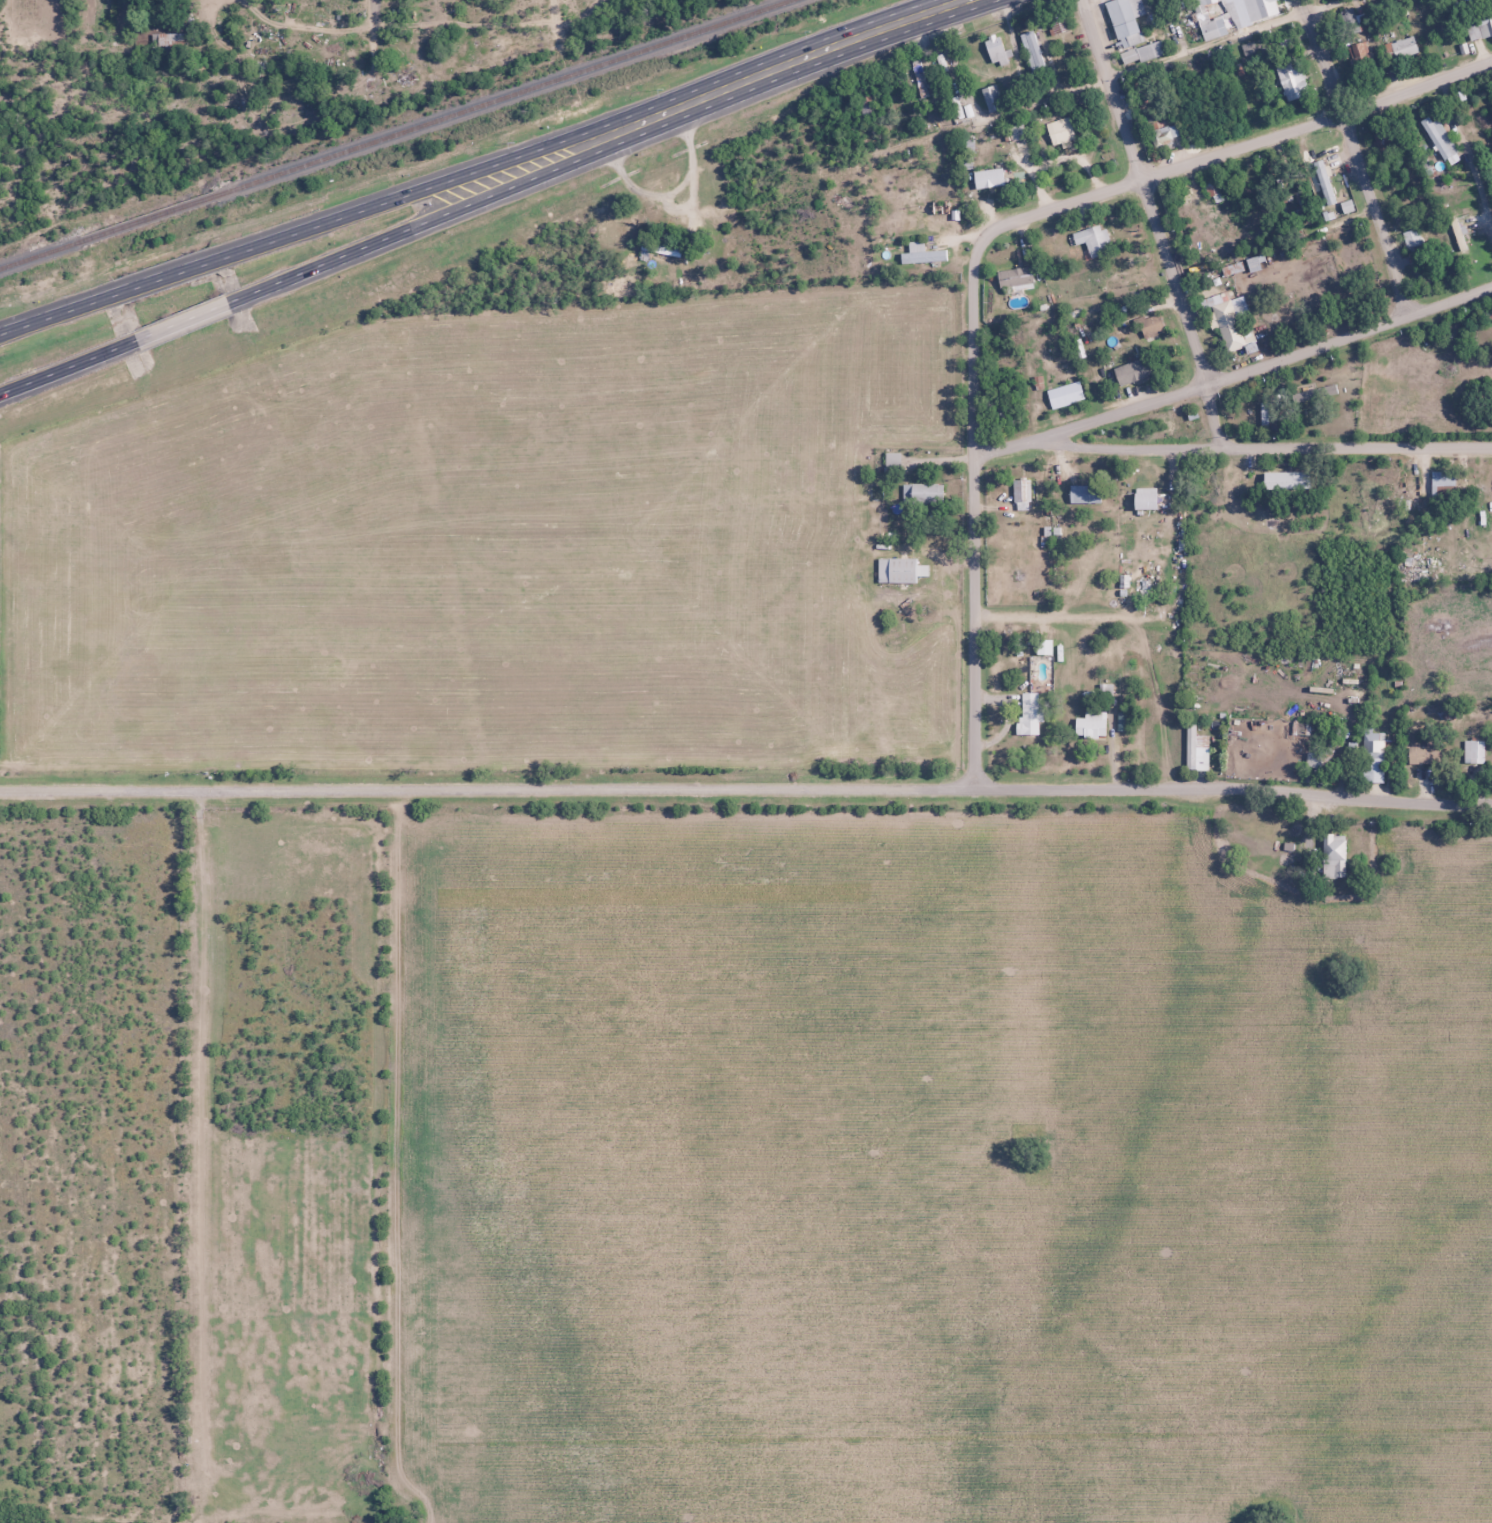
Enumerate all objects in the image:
road: (555, 17)
building: (1213, 17)
building: (1352, 21)
building: (1123, 22)
building: (1059, 25)
building: (1479, 27)
road: (1223, 38)
road: (833, 47)
building: (1403, 47)
building: (1033, 50)
building: (996, 51)
building: (1146, 51)
building: (1359, 53)
building: (1292, 81)
railway: (500, 98)
building: (992, 98)
building: (1059, 131)
building: (1438, 138)
road: (1237, 149)
road: (1358, 155)
road: (460, 178)
building: (988, 178)
building: (1323, 182)
road: (965, 190)
building: (1214, 191)
road: (1145, 192)
road: (466, 204)
building: (1346, 206)
railway: (147, 218)
building: (1091, 239)
building: (1412, 241)
building: (665, 247)
building: (922, 254)
railway: (39, 255)
road: (165, 276)
building: (1014, 277)
road: (55, 313)
road: (182, 320)
building: (1226, 322)
building: (1149, 324)
road: (68, 365)
building: (1129, 371)
road: (1233, 375)
building: (1314, 393)
building: (1066, 394)
building: (1264, 415)
road: (1212, 416)
road: (1266, 447)
building: (892, 462)
building: (1442, 483)
building: (921, 493)
building: (1021, 493)
building: (1084, 493)
building: (1144, 498)
road: (973, 513)
building: (898, 570)
building: (1042, 647)
building: (1028, 713)
building: (1090, 725)
building: (1194, 752)
building: (1474, 752)
building: (1423, 755)
building: (1373, 757)
building: (1315, 760)
road: (746, 789)
building: (1333, 858)

